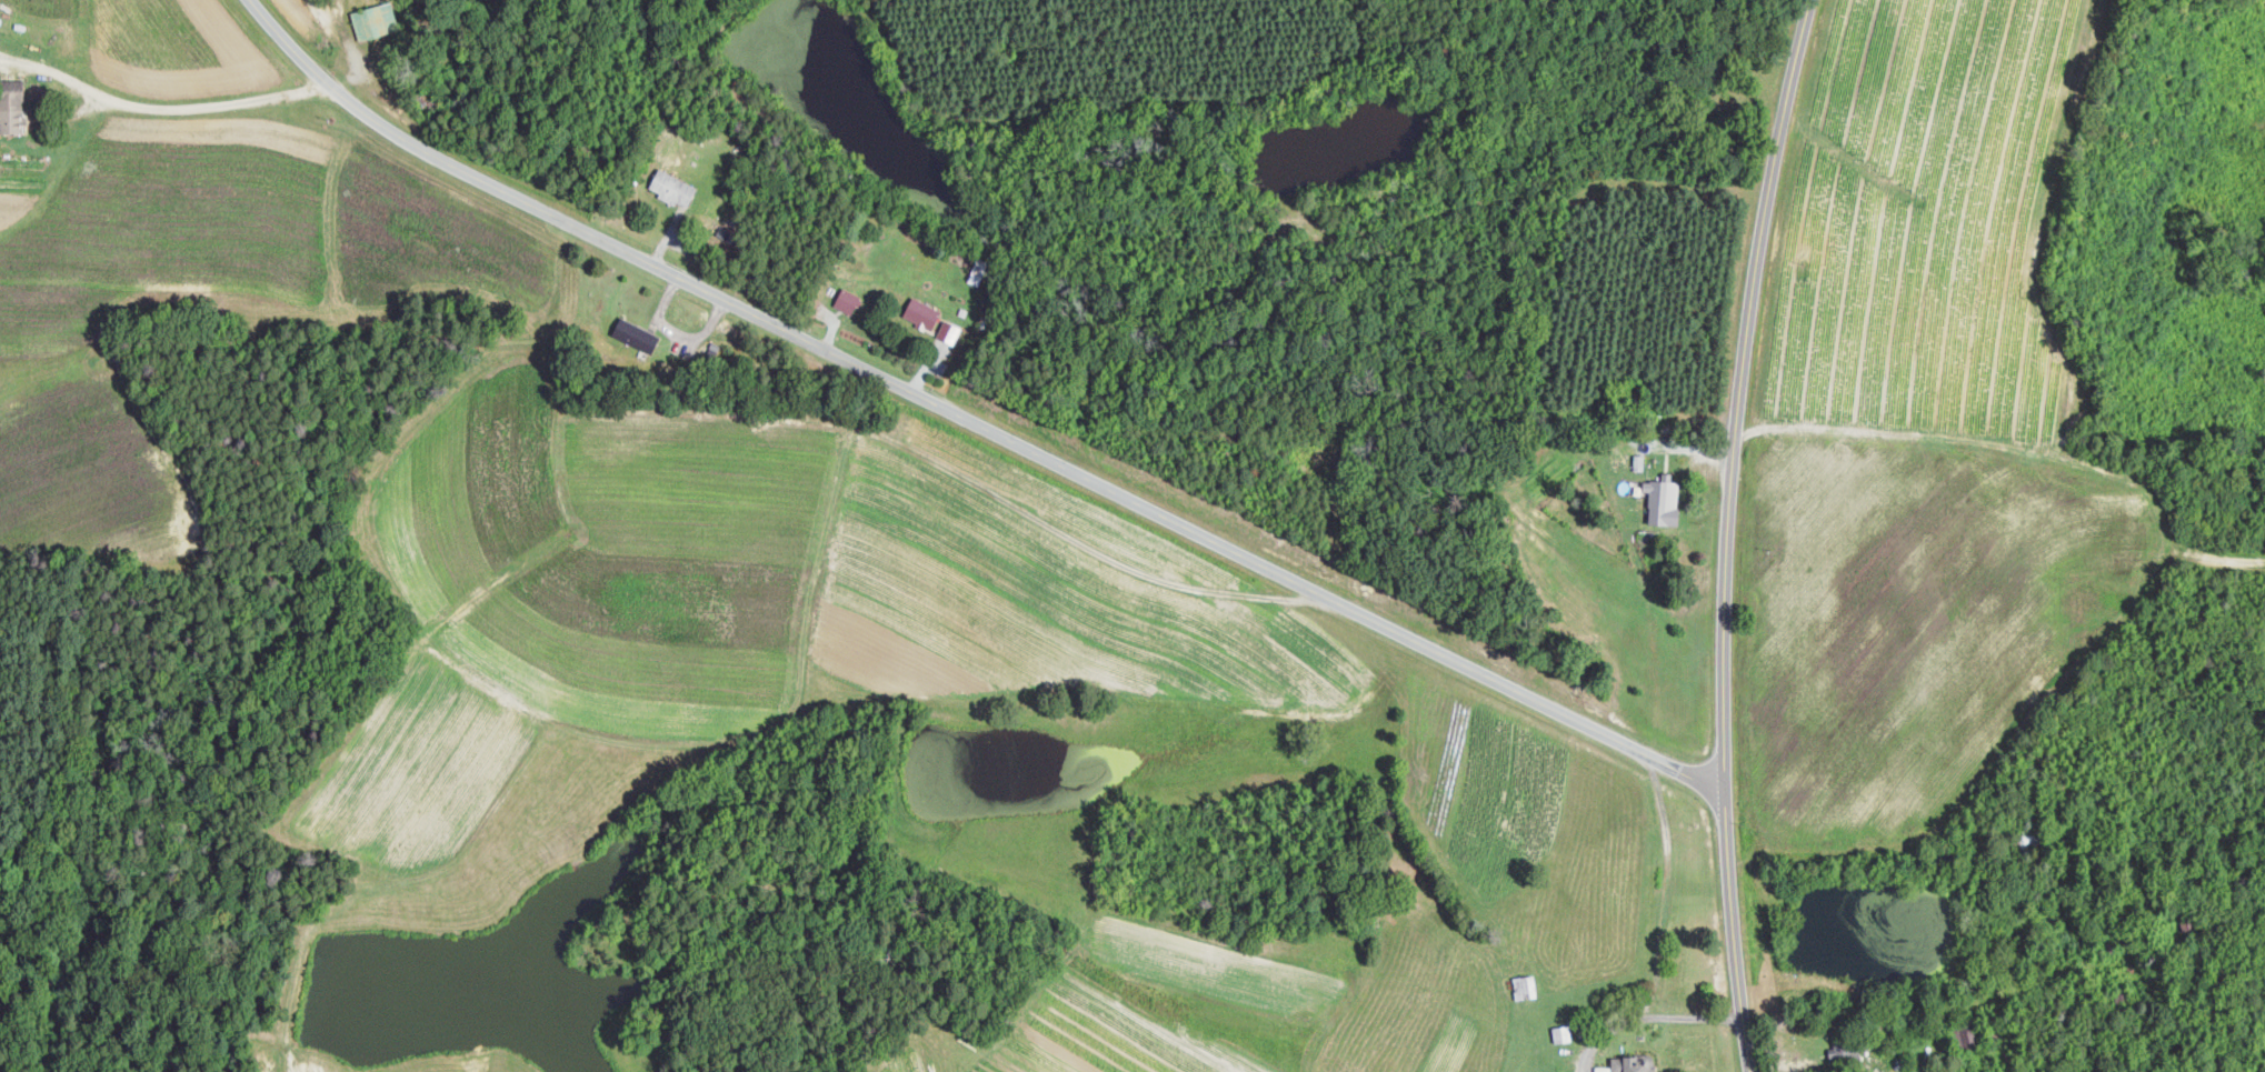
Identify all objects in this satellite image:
building: (376, 20)
building: (13, 107)
road: (149, 128)
building: (675, 188)
building: (850, 300)
building: (925, 313)
road: (678, 332)
building: (640, 339)
road: (970, 422)
building: (1666, 500)
road: (1729, 532)
road: (2017, 975)
building: (1527, 988)
road: (1652, 1016)
building: (1563, 1033)
building: (1844, 1048)
building: (1629, 1064)

